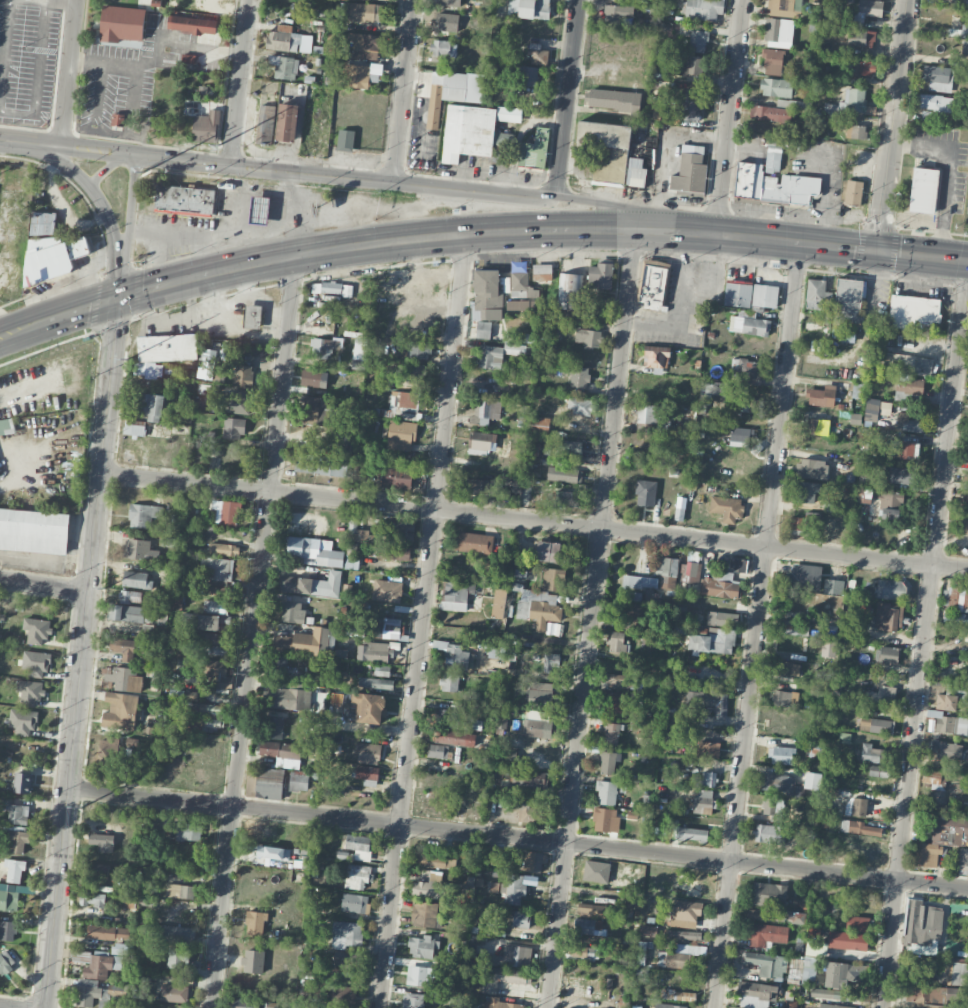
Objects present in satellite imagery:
building: (368, 0)
road: (61, 1)
building: (212, 5)
building: (786, 6)
building: (528, 8)
building: (870, 8)
building: (704, 9)
building: (363, 12)
building: (617, 15)
building: (121, 24)
building: (191, 24)
building: (779, 31)
building: (964, 31)
building: (283, 39)
building: (863, 39)
building: (698, 41)
building: (367, 46)
road: (200, 47)
road: (4, 48)
building: (443, 48)
building: (966, 53)
building: (537, 54)
building: (190, 58)
building: (772, 61)
building: (690, 65)
road: (123, 67)
building: (284, 67)
building: (862, 68)
road: (38, 72)
road: (69, 73)
building: (359, 75)
building: (528, 76)
building: (938, 78)
road: (239, 82)
building: (776, 87)
road: (403, 91)
building: (452, 92)
road: (566, 98)
building: (616, 100)
building: (854, 102)
building: (933, 102)
building: (689, 106)
building: (770, 113)
building: (508, 114)
road: (729, 115)
building: (287, 122)
road: (891, 123)
building: (265, 124)
building: (206, 126)
building: (856, 131)
building: (471, 132)
building: (315, 133)
building: (604, 134)
road: (7, 140)
building: (345, 140)
power tower: (220, 142)
road: (742, 143)
road: (74, 147)
building: (534, 150)
road: (664, 150)
road: (951, 166)
road: (108, 167)
power tower: (143, 171)
building: (635, 172)
building: (689, 174)
road: (344, 177)
building: (773, 180)
road: (824, 188)
building: (924, 190)
building: (853, 192)
road: (99, 198)
building: (185, 199)
road: (636, 207)
building: (967, 207)
building: (259, 210)
building: (43, 223)
road: (128, 227)
road: (412, 239)
road: (842, 243)
traffic signals: (877, 247)
building: (53, 256)
building: (542, 269)
building: (600, 276)
building: (522, 285)
building: (652, 285)
building: (331, 287)
road: (213, 290)
building: (569, 291)
building: (737, 293)
building: (816, 294)
building: (487, 295)
building: (765, 295)
road: (189, 297)
road: (256, 297)
traffic signals: (115, 300)
building: (520, 305)
building: (848, 306)
building: (912, 310)
road: (187, 314)
building: (252, 316)
road: (57, 318)
building: (552, 325)
building: (749, 325)
building: (483, 329)
building: (588, 337)
building: (167, 347)
building: (324, 347)
building: (417, 349)
building: (826, 351)
power tower: (125, 355)
building: (359, 355)
building: (656, 356)
building: (490, 357)
building: (908, 361)
building: (207, 364)
building: (748, 369)
building: (149, 370)
building: (411, 373)
building: (243, 375)
building: (579, 377)
building: (314, 378)
building: (909, 389)
building: (711, 391)
building: (821, 396)
building: (241, 401)
building: (406, 404)
building: (744, 405)
building: (872, 405)
building: (150, 406)
building: (581, 406)
building: (319, 409)
building: (487, 411)
building: (649, 419)
building: (535, 423)
building: (907, 423)
building: (6, 426)
building: (818, 426)
building: (234, 428)
building: (134, 430)
building: (401, 434)
building: (740, 437)
building: (339, 439)
building: (480, 442)
building: (569, 447)
building: (903, 449)
building: (967, 460)
building: (321, 465)
building: (812, 469)
building: (564, 474)
building: (900, 475)
building: (476, 486)
building: (808, 492)
building: (645, 493)
building: (965, 498)
building: (891, 499)
building: (569, 500)
building: (726, 508)
building: (226, 511)
building: (679, 513)
building: (889, 514)
building: (144, 515)
road: (533, 521)
building: (799, 525)
building: (964, 525)
building: (34, 530)
building: (403, 530)
building: (362, 535)
building: (473, 542)
building: (298, 546)
building: (137, 549)
building: (224, 549)
building: (395, 552)
building: (551, 552)
building: (329, 558)
building: (740, 565)
building: (219, 569)
building: (462, 569)
building: (667, 572)
building: (692, 572)
building: (805, 576)
building: (554, 579)
building: (136, 580)
building: (640, 582)
road: (44, 584)
building: (311, 584)
power tower: (101, 586)
building: (833, 586)
building: (720, 588)
building: (891, 589)
building: (215, 590)
building: (387, 591)
building: (456, 595)
building: (635, 596)
building: (131, 597)
building: (956, 598)
building: (499, 603)
building: (799, 603)
building: (217, 606)
building: (537, 609)
building: (292, 612)
building: (127, 613)
building: (630, 616)
building: (886, 617)
road: (592, 618)
building: (722, 618)
building: (956, 618)
building: (225, 619)
road: (422, 621)
building: (161, 622)
building: (208, 622)
road: (757, 623)
building: (793, 627)
building: (387, 629)
building: (36, 630)
road: (253, 632)
road: (925, 632)
building: (616, 641)
building: (713, 641)
building: (307, 642)
building: (215, 643)
building: (126, 649)
building: (828, 649)
building: (373, 651)
building: (498, 652)
road: (82, 654)
building: (886, 654)
building: (455, 655)
building: (551, 661)
building: (36, 663)
building: (277, 665)
building: (787, 668)
building: (382, 670)
building: (220, 675)
building: (123, 679)
building: (618, 681)
building: (375, 682)
building: (449, 682)
building: (30, 691)
building: (190, 695)
building: (881, 695)
building: (539, 697)
building: (288, 698)
building: (781, 698)
building: (951, 700)
building: (709, 701)
building: (614, 703)
building: (369, 708)
building: (120, 711)
building: (210, 715)
building: (448, 718)
building: (23, 721)
building: (876, 725)
building: (951, 725)
building: (274, 727)
building: (534, 727)
building: (611, 734)
building: (456, 738)
building: (707, 749)
building: (947, 750)
building: (437, 751)
building: (108, 753)
building: (282, 753)
building: (368, 753)
building: (873, 754)
building: (781, 755)
building: (607, 762)
building: (947, 763)
building: (881, 771)
building: (367, 775)
building: (530, 779)
building: (708, 779)
building: (934, 779)
building: (298, 781)
building: (812, 781)
building: (775, 782)
building: (22, 783)
building: (606, 792)
building: (703, 802)
power tower: (80, 806)
building: (856, 806)
building: (773, 808)
building: (525, 811)
building: (18, 814)
building: (603, 819)
building: (859, 828)
building: (188, 832)
building: (693, 834)
building: (770, 834)
road: (517, 839)
building: (15, 840)
building: (940, 840)
building: (102, 841)
building: (358, 846)
building: (266, 855)
building: (498, 858)
building: (425, 860)
building: (963, 860)
building: (533, 861)
building: (14, 869)
building: (97, 871)
building: (596, 871)
building: (358, 876)
building: (431, 888)
building: (514, 889)
building: (180, 891)
building: (769, 894)
building: (92, 899)
building: (8, 900)
building: (354, 903)
building: (591, 910)
building: (686, 910)
building: (424, 914)
building: (762, 914)
building: (797, 917)
building: (521, 919)
building: (255, 923)
building: (863, 924)
building: (588, 926)
building: (7, 930)
building: (647, 930)
building: (107, 933)
building: (175, 933)
building: (346, 934)
building: (766, 934)
building: (847, 940)
building: (421, 946)
building: (119, 949)
building: (582, 952)
building: (641, 952)
building: (509, 956)
building: (681, 956)
building: (177, 958)
building: (345, 959)
building: (253, 961)
building: (5, 962)
building: (767, 964)
building: (808, 970)
building: (959, 970)
building: (842, 974)
building: (421, 975)
building: (502, 977)
building: (173, 993)
building: (956, 993)
building: (94, 994)
building: (757, 994)
building: (340, 995)
building: (923, 995)
building: (683, 996)
building: (413, 1000)
building: (300, 1002)
building: (499, 1004)
building: (669, 1006)
building: (832, 1006)
building: (243, 1007)

